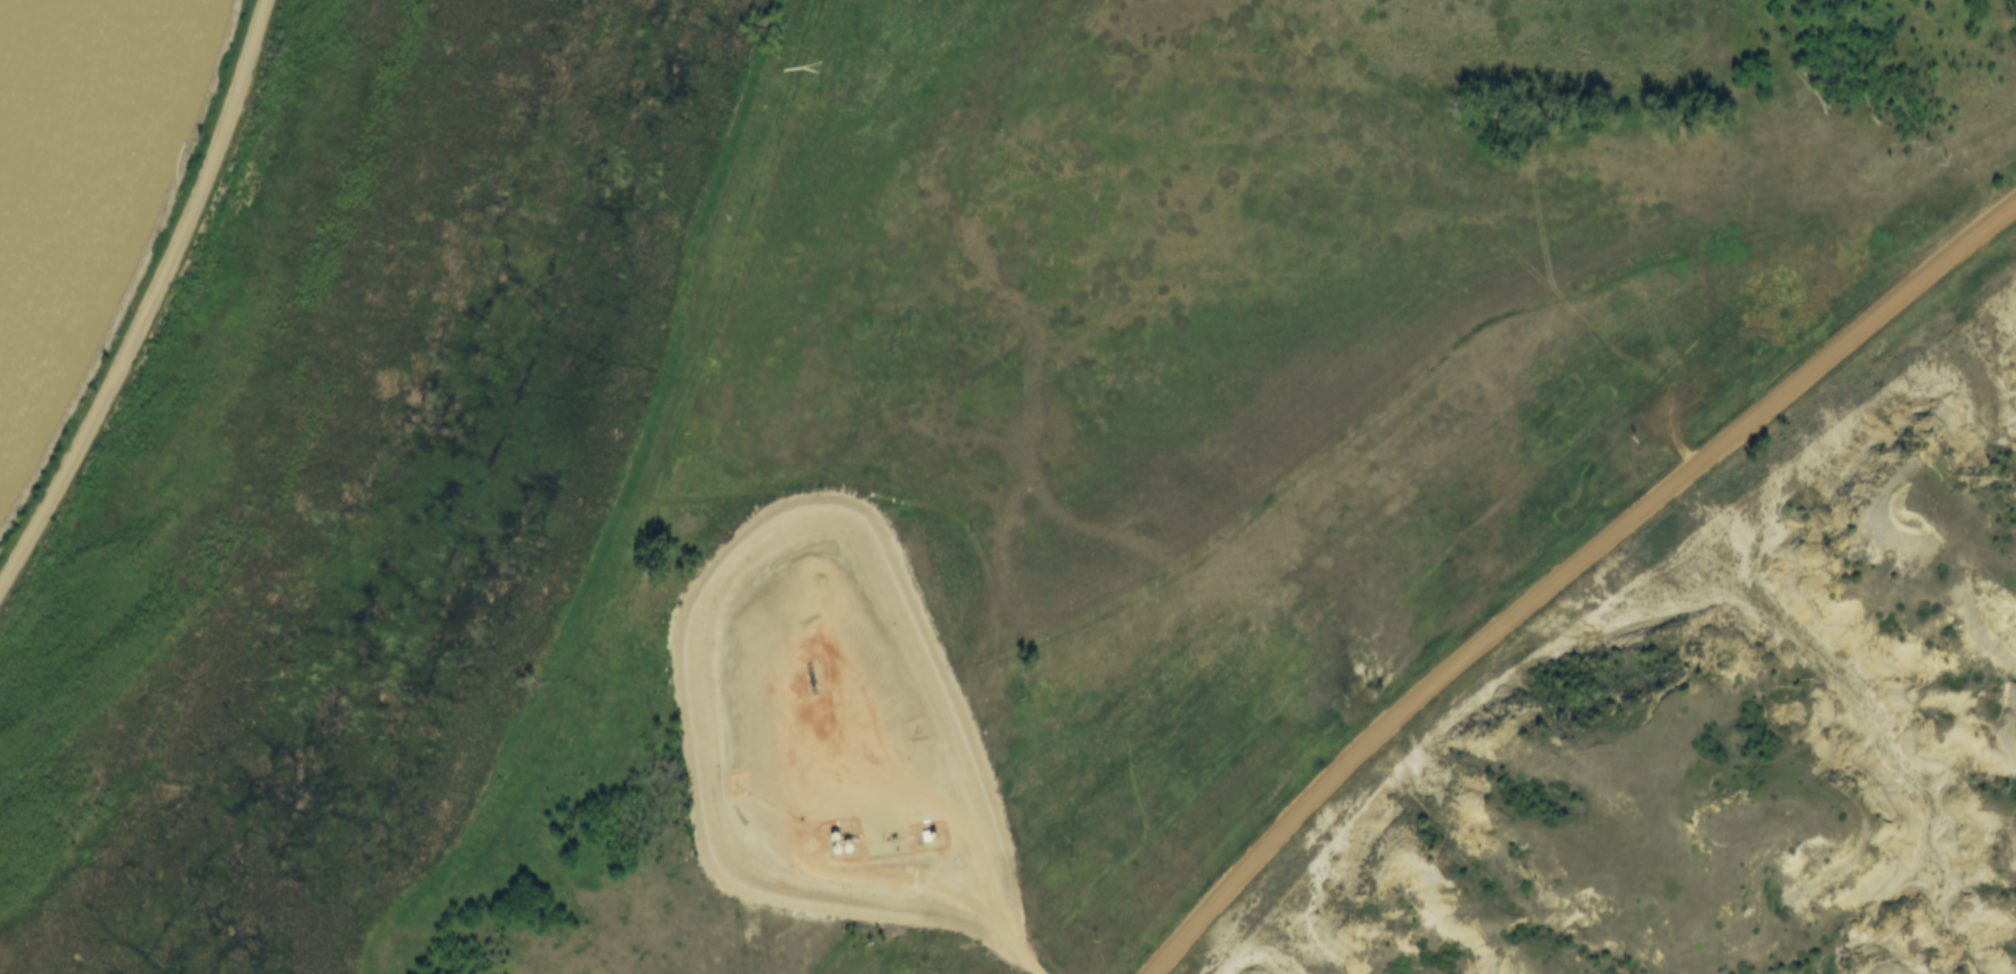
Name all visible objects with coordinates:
road: (149, 298)
road: (1570, 574)
road: (924, 888)

